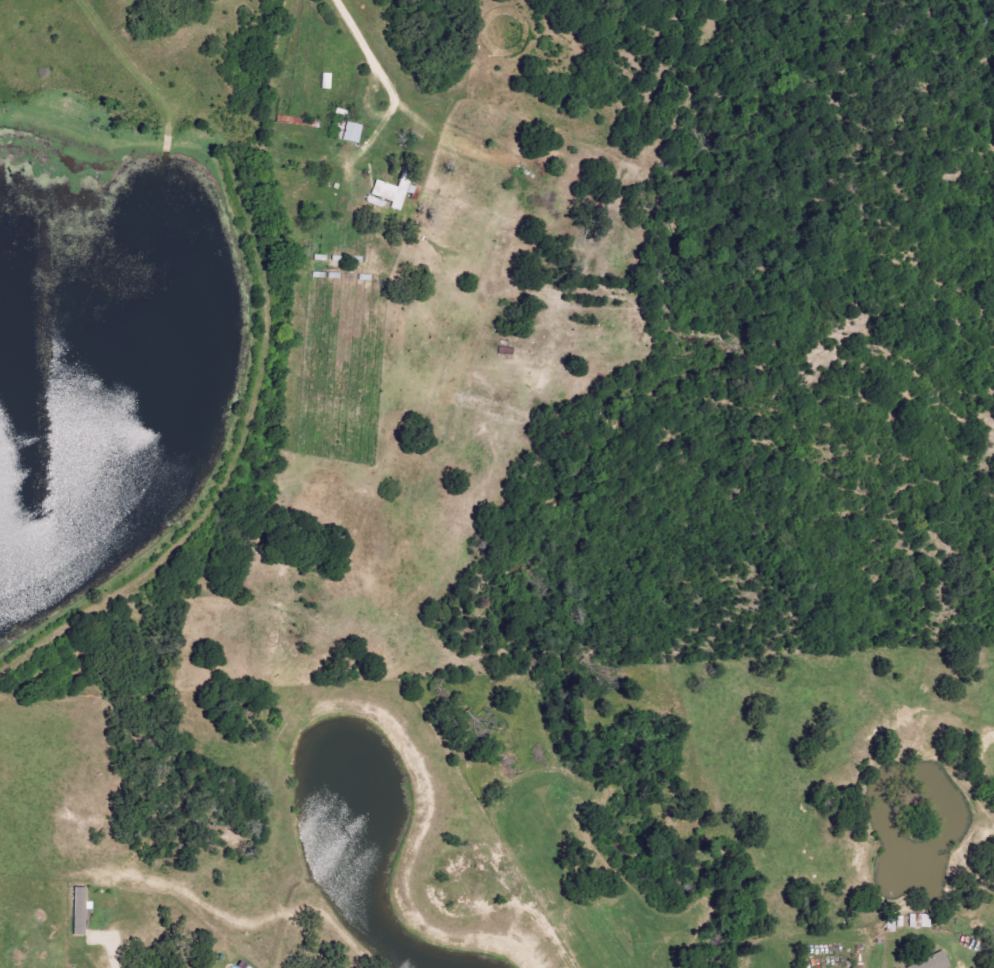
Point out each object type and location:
road: (360, 42)
building: (349, 133)
dam: (231, 469)
building: (78, 911)
building: (919, 921)
building: (929, 962)

